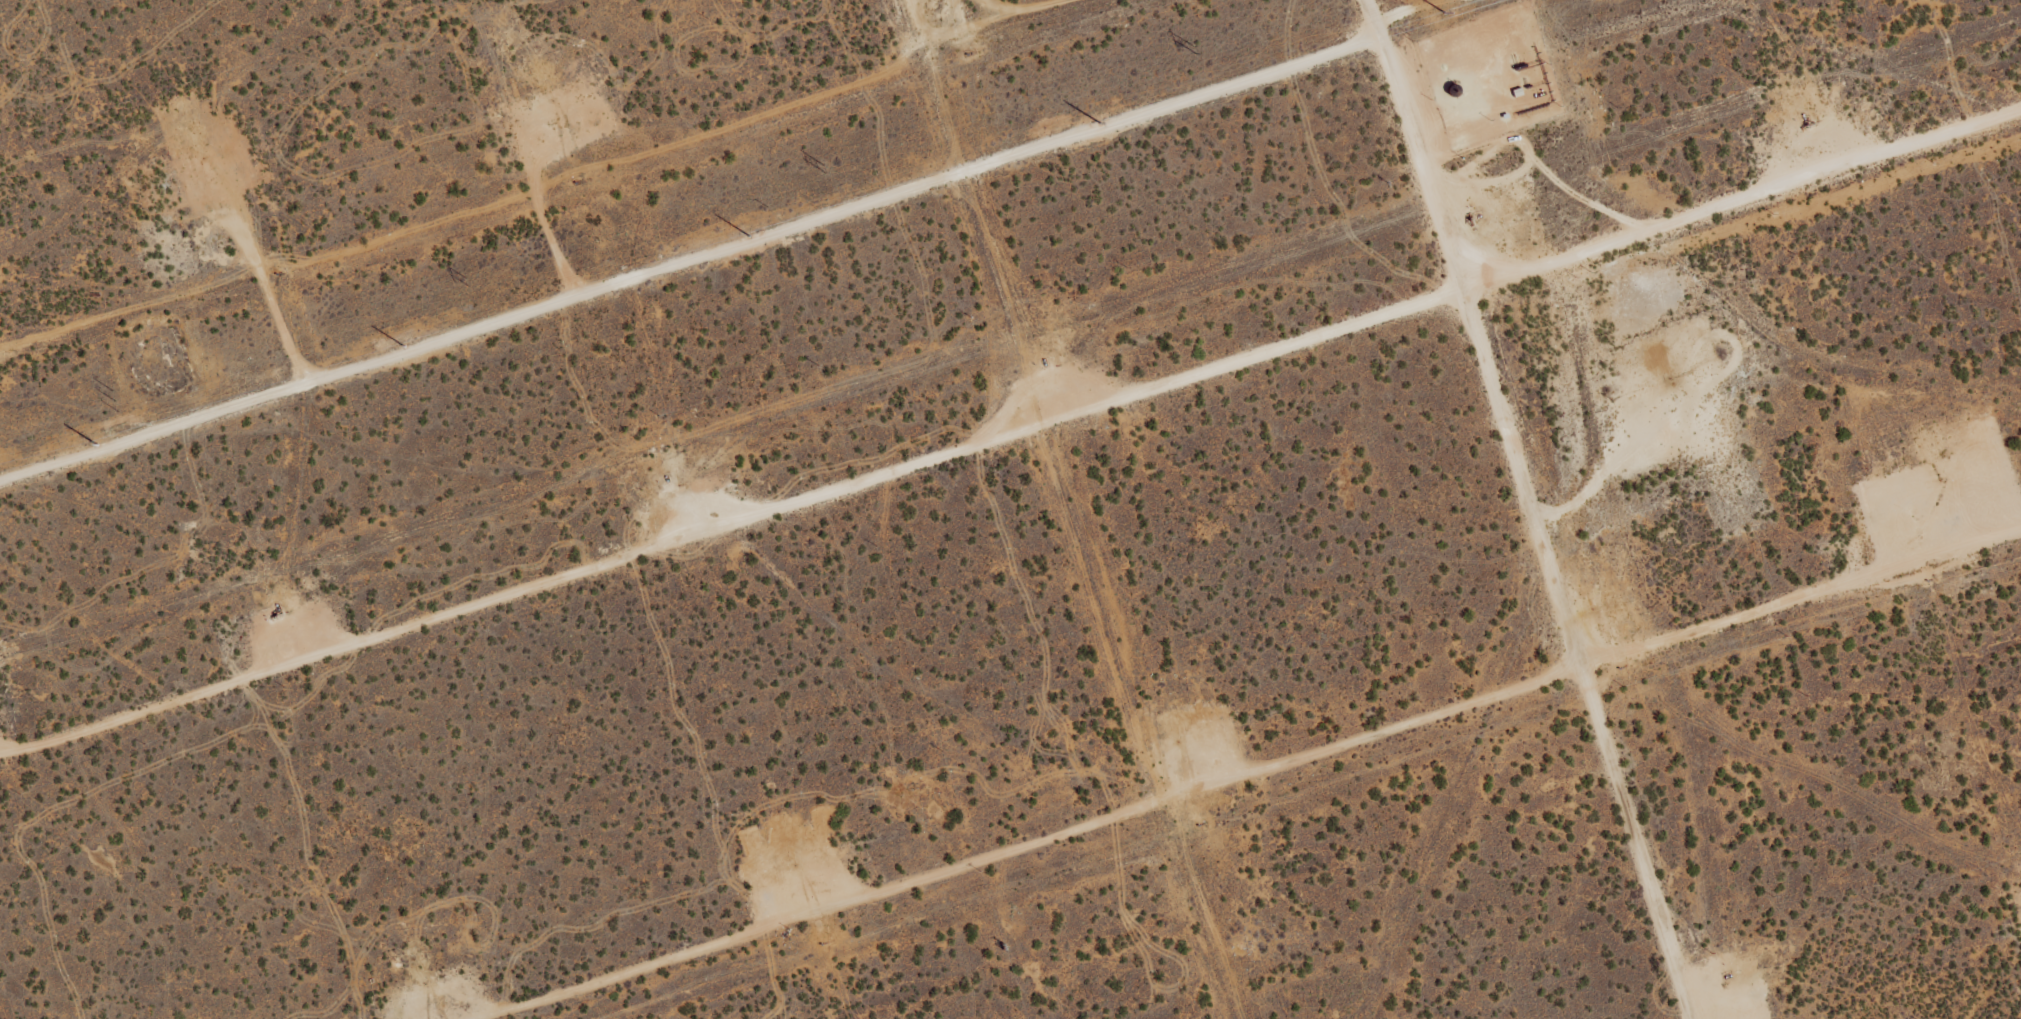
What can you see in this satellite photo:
road: (1054, 20)
power tower: (1194, 49)
power tower: (823, 168)
road: (690, 267)
power tower: (468, 282)
power tower: (113, 401)
road: (1011, 445)
road: (1534, 507)
road: (1261, 774)

